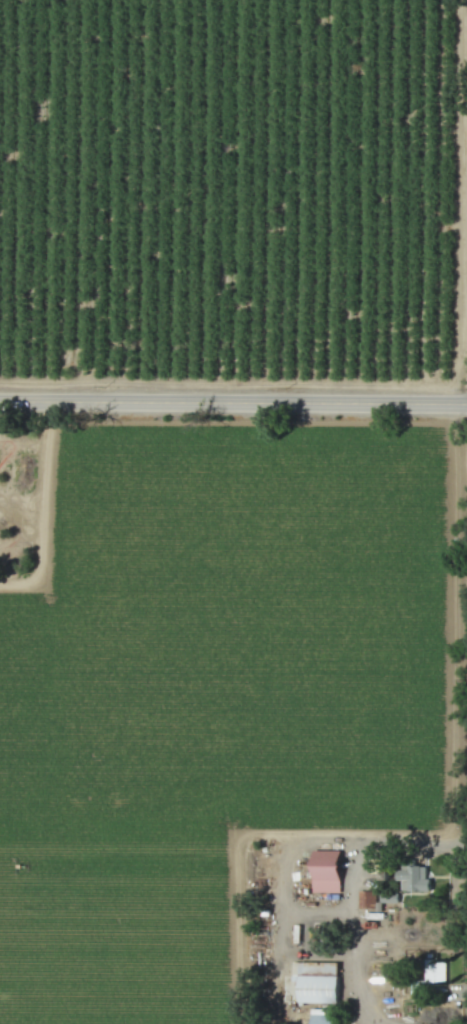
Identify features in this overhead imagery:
road: (233, 402)
building: (325, 871)
road: (285, 878)
building: (414, 879)
building: (389, 898)
building: (366, 899)
building: (436, 971)
building: (316, 982)
building: (322, 1019)

